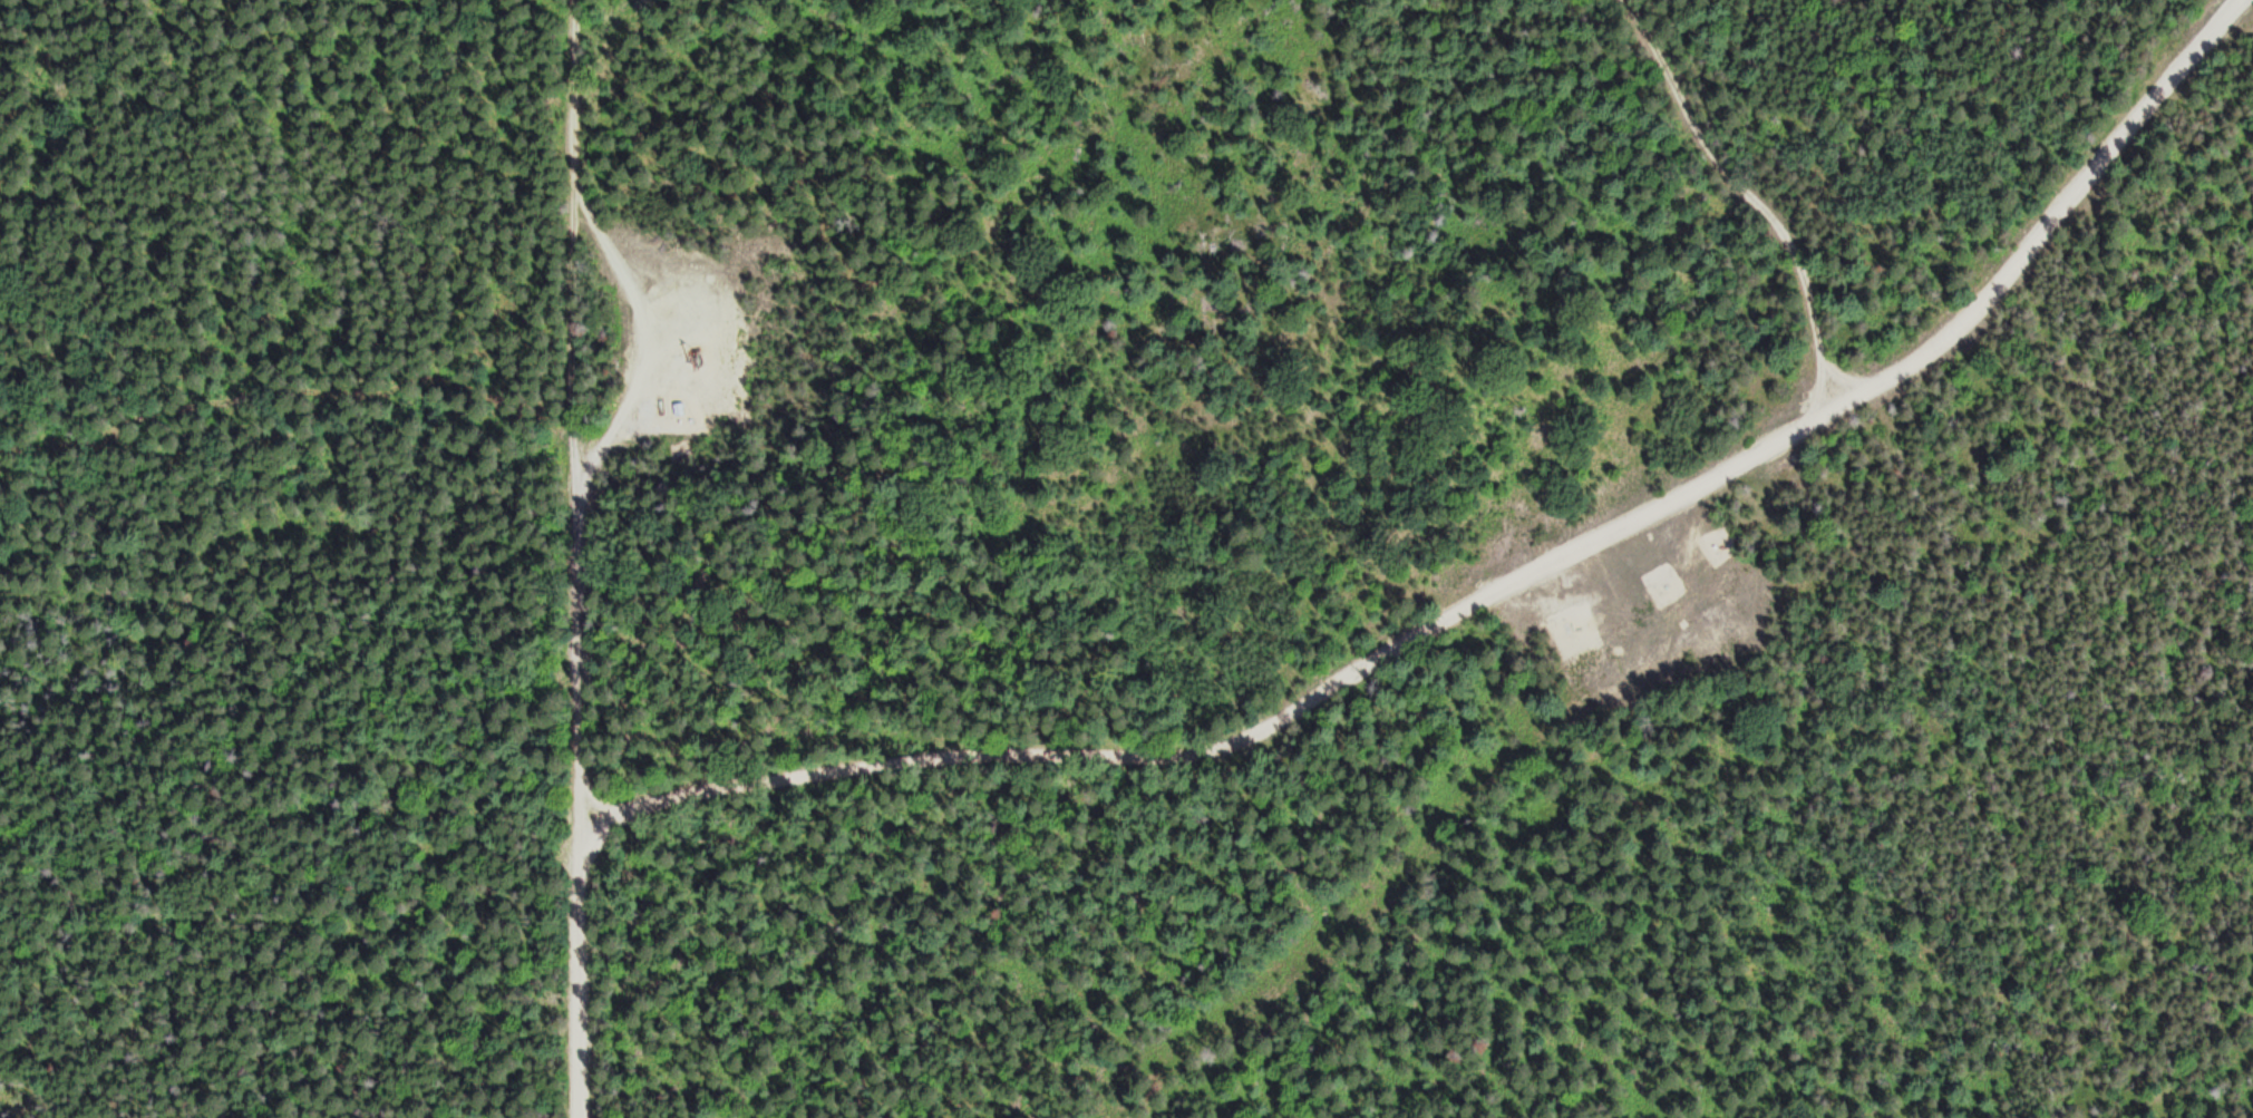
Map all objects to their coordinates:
road: (1752, 193)
road: (576, 324)
petroleum well: (706, 347)
road: (580, 542)
road: (1492, 585)

